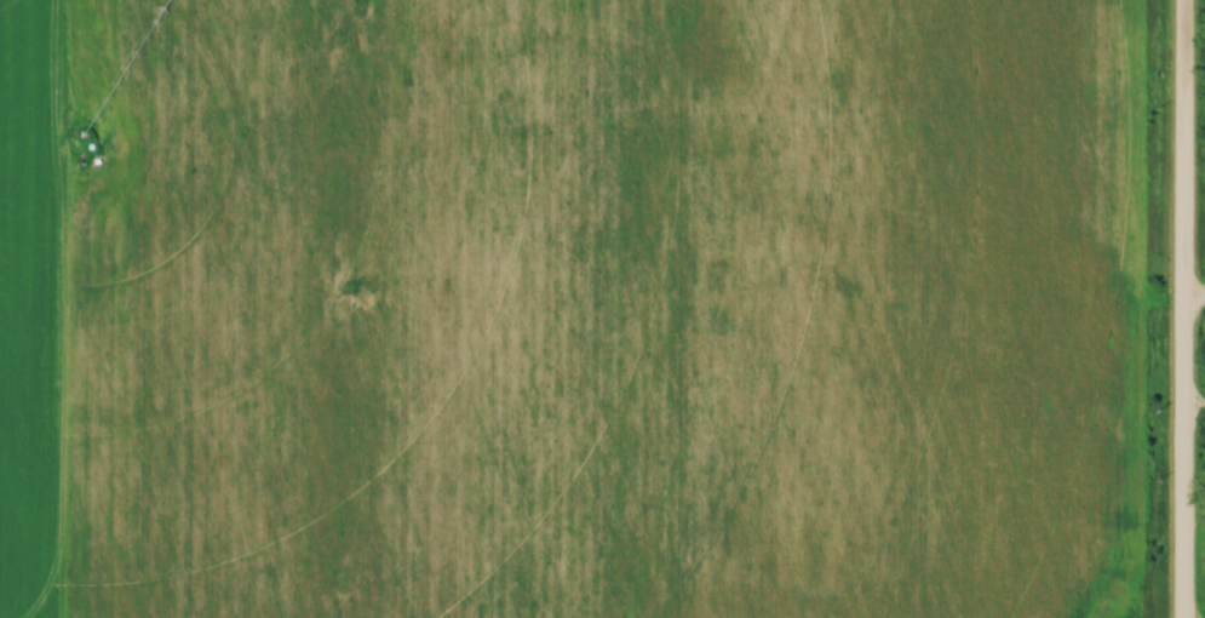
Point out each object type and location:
road: (1195, 304)
road: (1186, 308)

